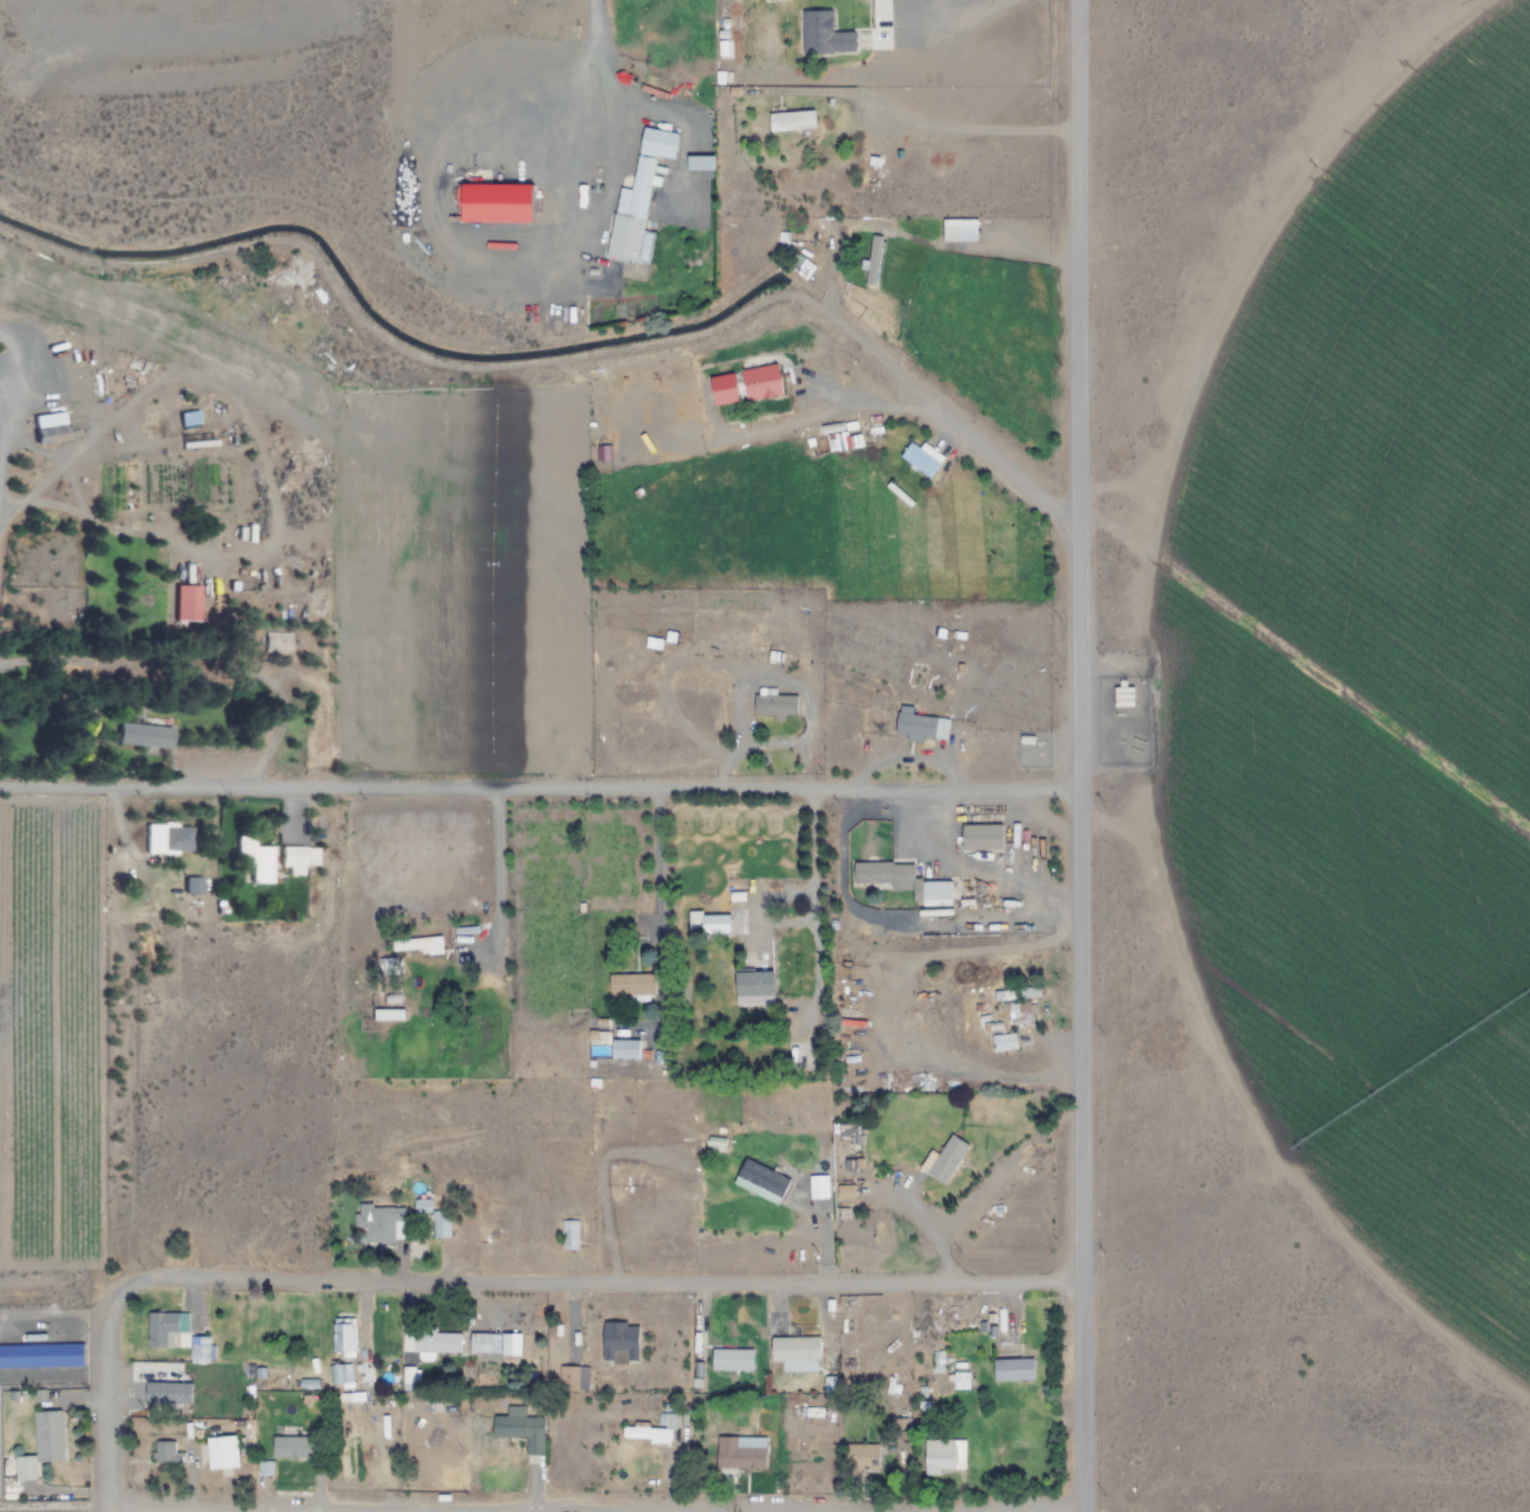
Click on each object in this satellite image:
building: (823, 34)
road: (595, 99)
building: (791, 121)
building: (700, 164)
building: (638, 199)
building: (493, 200)
building: (959, 229)
road: (1010, 255)
building: (873, 259)
building: (761, 383)
building: (188, 418)
building: (49, 434)
road: (959, 437)
building: (844, 444)
building: (922, 459)
building: (186, 603)
building: (276, 643)
building: (653, 644)
building: (1123, 697)
building: (775, 704)
building: (927, 729)
building: (144, 736)
road: (1078, 755)
road: (539, 788)
building: (981, 837)
building: (167, 839)
building: (253, 859)
building: (296, 859)
road: (498, 865)
road: (817, 871)
road: (663, 878)
building: (901, 882)
building: (708, 924)
building: (418, 946)
building: (631, 985)
building: (754, 986)
building: (392, 1000)
building: (1023, 1013)
building: (1003, 1042)
building: (616, 1048)
building: (944, 1158)
building: (761, 1180)
building: (434, 1218)
building: (380, 1224)
building: (568, 1234)
road: (600, 1277)
building: (164, 1328)
building: (371, 1330)
building: (342, 1334)
building: (619, 1341)
building: (430, 1342)
building: (494, 1344)
building: (794, 1349)
building: (200, 1350)
building: (737, 1367)
building: (1013, 1370)
building: (336, 1374)
building: (407, 1374)
building: (204, 1376)
building: (572, 1378)
building: (960, 1380)
building: (164, 1389)
road: (105, 1393)
building: (527, 1431)
building: (37, 1440)
building: (291, 1447)
building: (163, 1452)
building: (222, 1453)
building: (742, 1454)
building: (862, 1456)
building: (944, 1456)
road: (592, 1507)
building: (34, 1511)

